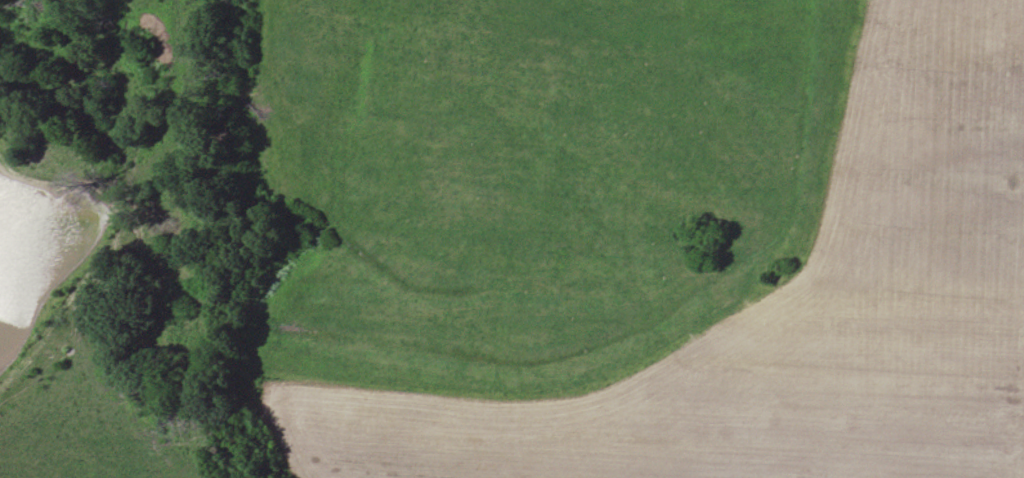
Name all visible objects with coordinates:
crop: (789, 315)

